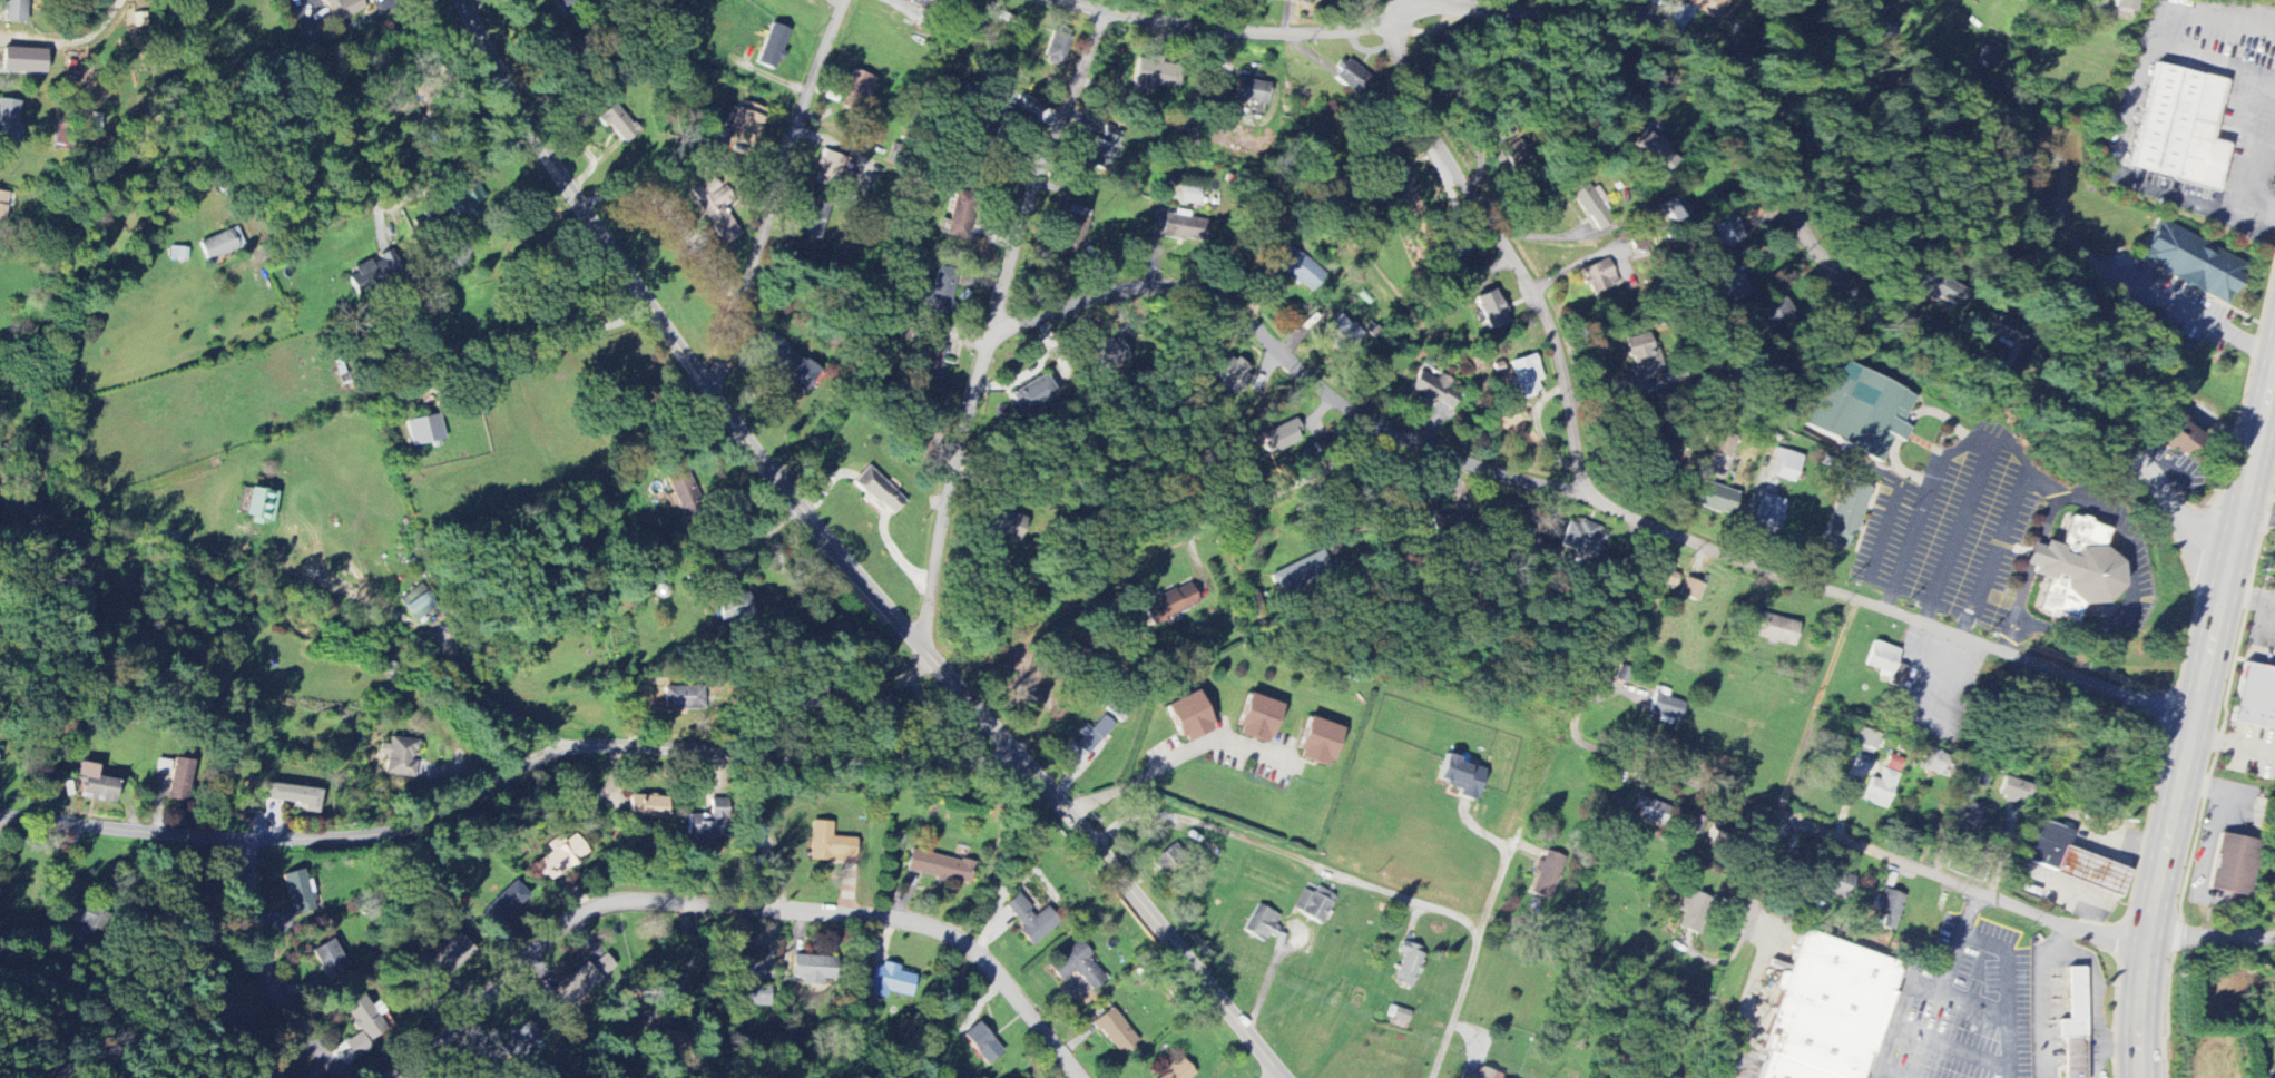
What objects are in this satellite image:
building: (566, 0)
building: (1318, 0)
building: (1300, 1)
building: (921, 3)
road: (1469, 4)
building: (1706, 6)
building: (2126, 6)
building: (340, 9)
building: (13, 11)
building: (1877, 18)
building: (926, 21)
road: (1237, 33)
building: (771, 47)
building: (1056, 49)
building: (1989, 53)
building: (21, 61)
building: (1155, 76)
building: (1350, 77)
building: (856, 88)
building: (1251, 91)
building: (1002, 110)
building: (9, 120)
building: (746, 120)
building: (618, 124)
building: (2181, 128)
building: (1100, 150)
building: (1656, 154)
road: (2247, 155)
building: (827, 169)
building: (1393, 177)
road: (774, 193)
building: (1190, 196)
road: (399, 197)
building: (464, 199)
building: (1589, 205)
building: (1, 207)
building: (1674, 210)
building: (715, 213)
building: (813, 219)
building: (959, 219)
road: (671, 220)
building: (1184, 228)
building: (1726, 228)
building: (1071, 233)
building: (219, 245)
road: (1503, 253)
road: (1830, 262)
building: (2193, 263)
building: (1301, 269)
building: (1604, 282)
building: (1730, 287)
building: (1939, 288)
building: (940, 292)
building: (1775, 310)
building: (1490, 311)
road: (992, 324)
road: (1697, 330)
building: (1343, 333)
building: (2012, 333)
road: (532, 349)
building: (1108, 354)
road: (1282, 356)
building: (929, 362)
building: (1644, 362)
building: (787, 364)
building: (1232, 374)
building: (1053, 381)
building: (1523, 381)
building: (1432, 389)
building: (1032, 395)
building: (1860, 412)
building: (423, 431)
building: (2176, 435)
building: (1281, 438)
road: (1997, 442)
building: (1723, 445)
building: (1784, 465)
road: (2040, 482)
building: (879, 491)
building: (683, 492)
building: (1714, 499)
building: (258, 504)
building: (1769, 513)
building: (1845, 514)
road: (2046, 520)
building: (1003, 525)
road: (1958, 532)
building: (1582, 539)
road: (1166, 541)
road: (2034, 555)
road: (845, 559)
building: (2076, 570)
building: (1301, 574)
road: (724, 578)
building: (1658, 579)
building: (1689, 589)
road: (2129, 592)
road: (2020, 597)
building: (1169, 605)
building: (416, 606)
building: (734, 608)
road: (1882, 608)
building: (1772, 629)
road: (2004, 641)
road: (443, 650)
building: (1882, 659)
building: (683, 698)
building: (2256, 698)
building: (1664, 707)
road: (1816, 707)
road: (2190, 715)
building: (1189, 717)
building: (1257, 719)
building: (1094, 735)
building: (1866, 739)
building: (1318, 743)
building: (399, 757)
road: (1180, 757)
road: (1618, 759)
building: (1893, 763)
building: (1939, 764)
road: (508, 777)
building: (1461, 777)
building: (178, 781)
building: (95, 784)
building: (1881, 790)
building: (2013, 791)
building: (294, 796)
building: (646, 807)
building: (1649, 810)
building: (708, 823)
building: (1969, 823)
building: (1718, 834)
building: (828, 844)
road: (1284, 854)
building: (560, 856)
road: (1506, 860)
building: (2072, 861)
building: (2233, 865)
building: (940, 868)
building: (1546, 875)
road: (1759, 881)
road: (1959, 882)
building: (1837, 884)
building: (298, 893)
building: (503, 905)
building: (1315, 905)
road: (724, 908)
building: (1887, 908)
building: (1693, 913)
building: (85, 917)
building: (1031, 921)
building: (1261, 923)
road: (2209, 938)
building: (454, 952)
building: (327, 960)
building: (1408, 964)
building: (1077, 967)
road: (689, 968)
road: (2007, 969)
building: (815, 971)
road: (1268, 971)
road: (271, 979)
building: (890, 981)
building: (580, 984)
road: (1906, 986)
building: (744, 987)
road: (2041, 994)
road: (1745, 996)
road: (2096, 1000)
road: (1461, 1002)
road: (1974, 1002)
building: (1826, 1011)
building: (222, 1013)
building: (363, 1018)
building: (2075, 1027)
building: (1115, 1031)
building: (671, 1041)
road: (2115, 1041)
building: (518, 1043)
building: (981, 1043)
road: (1950, 1045)
building: (1177, 1070)
road: (1889, 1074)
building: (271, 1075)
road: (1275, 1075)
building: (1480, 1075)

